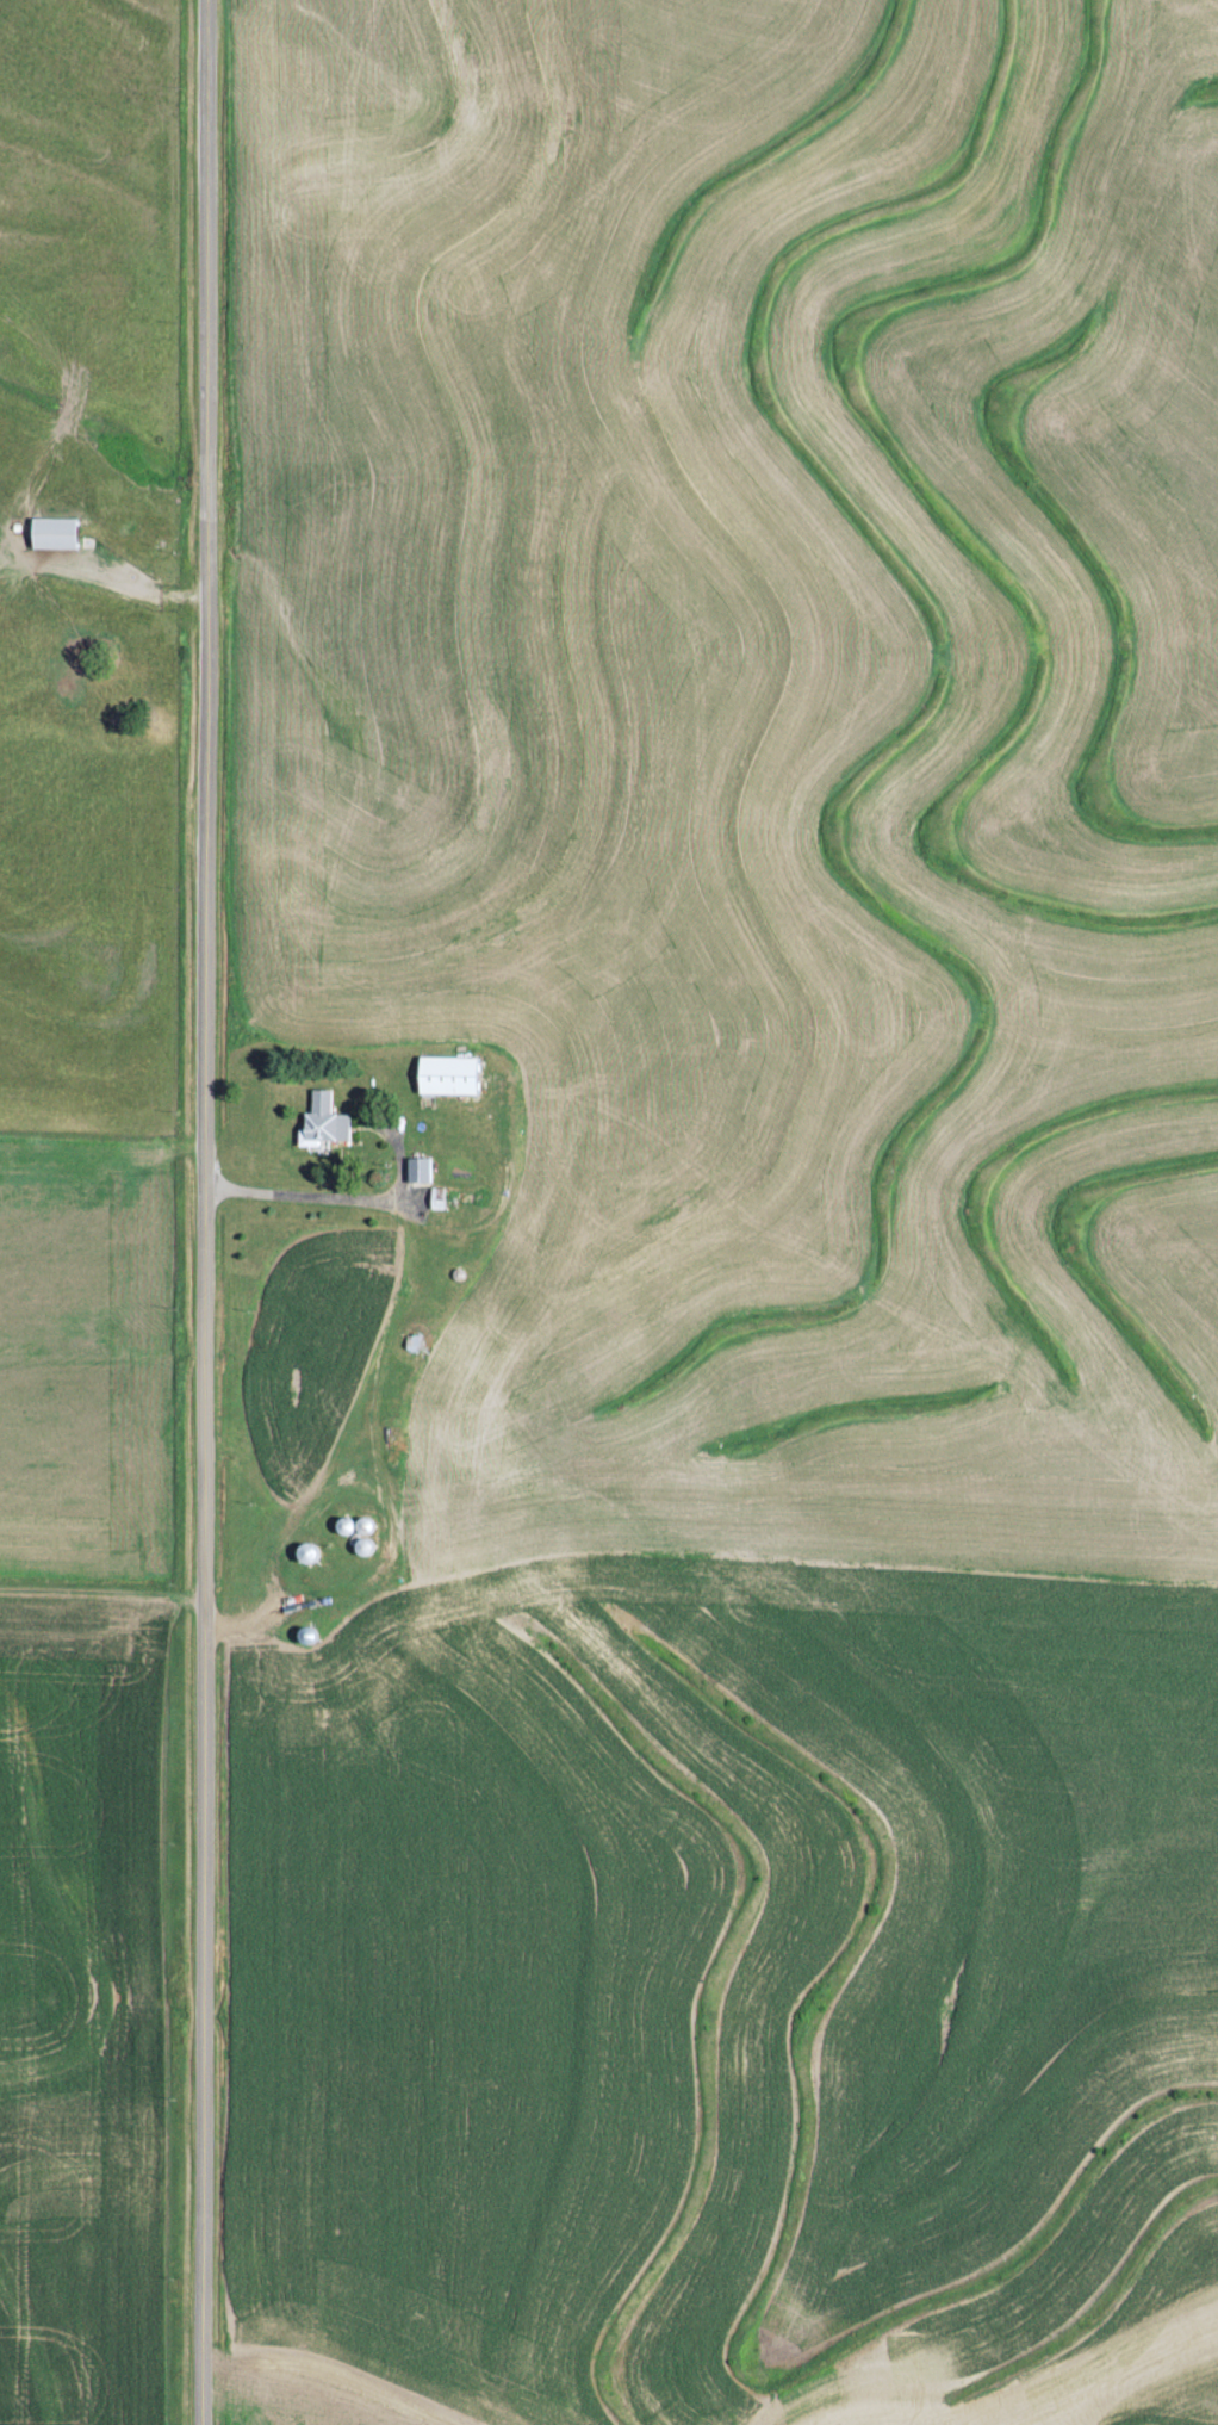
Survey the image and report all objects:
building: (55, 531)
building: (449, 1074)
building: (323, 1122)
building: (418, 1171)
building: (437, 1197)
road: (192, 1212)
building: (307, 1552)

